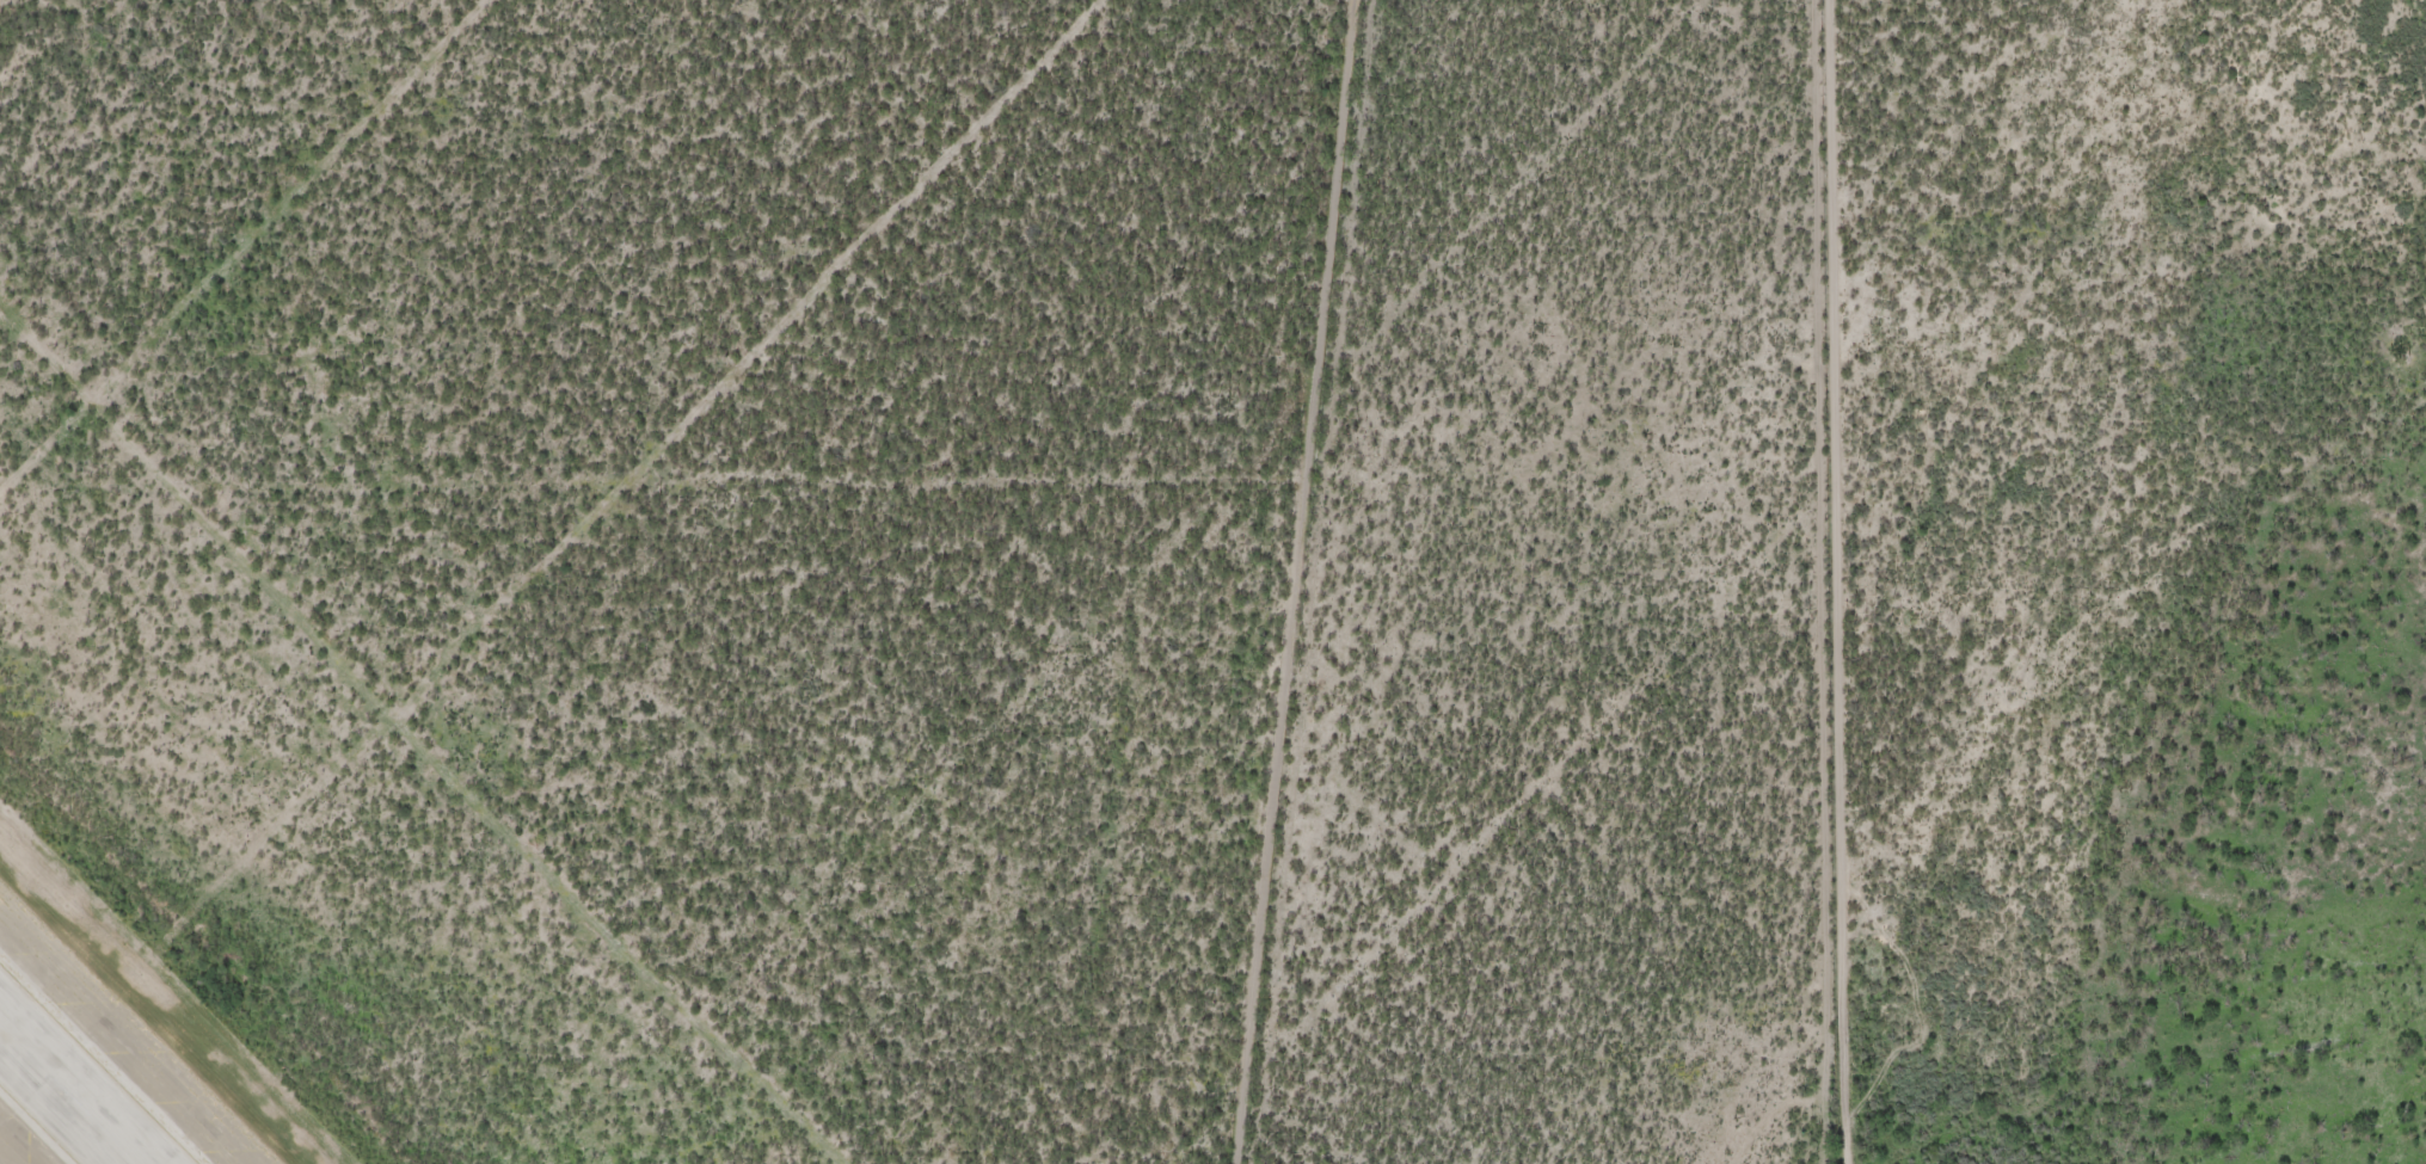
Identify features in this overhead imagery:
airport: (651, 573)
road: (2168, 723)
airport runway: (67, 1096)

